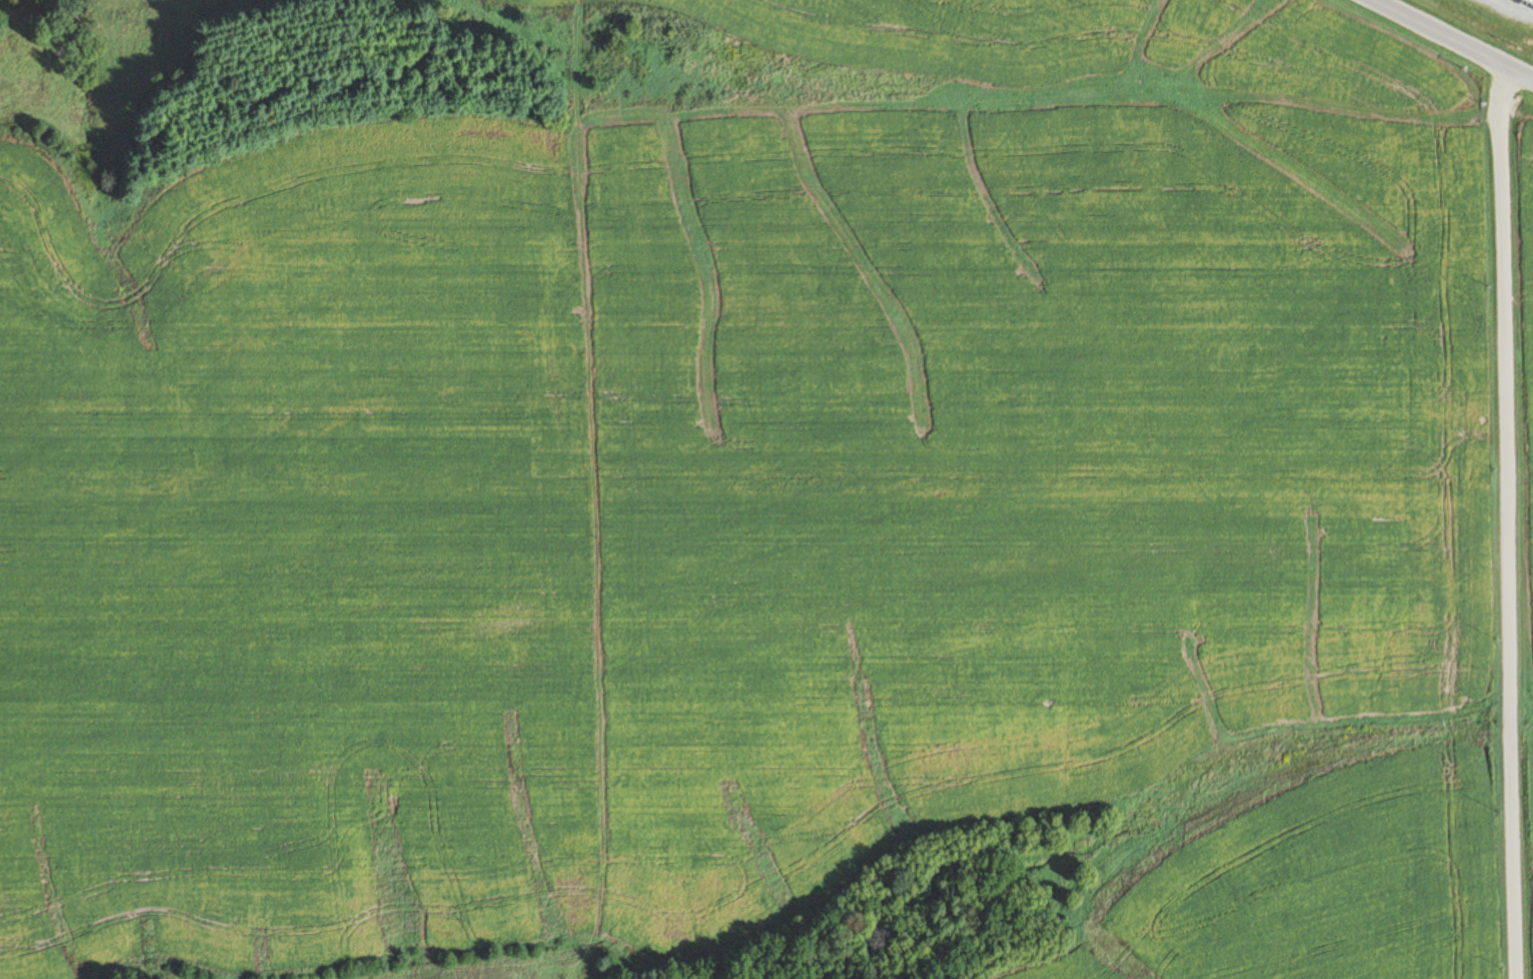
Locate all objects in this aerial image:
road: (1453, 39)
road: (1515, 524)

